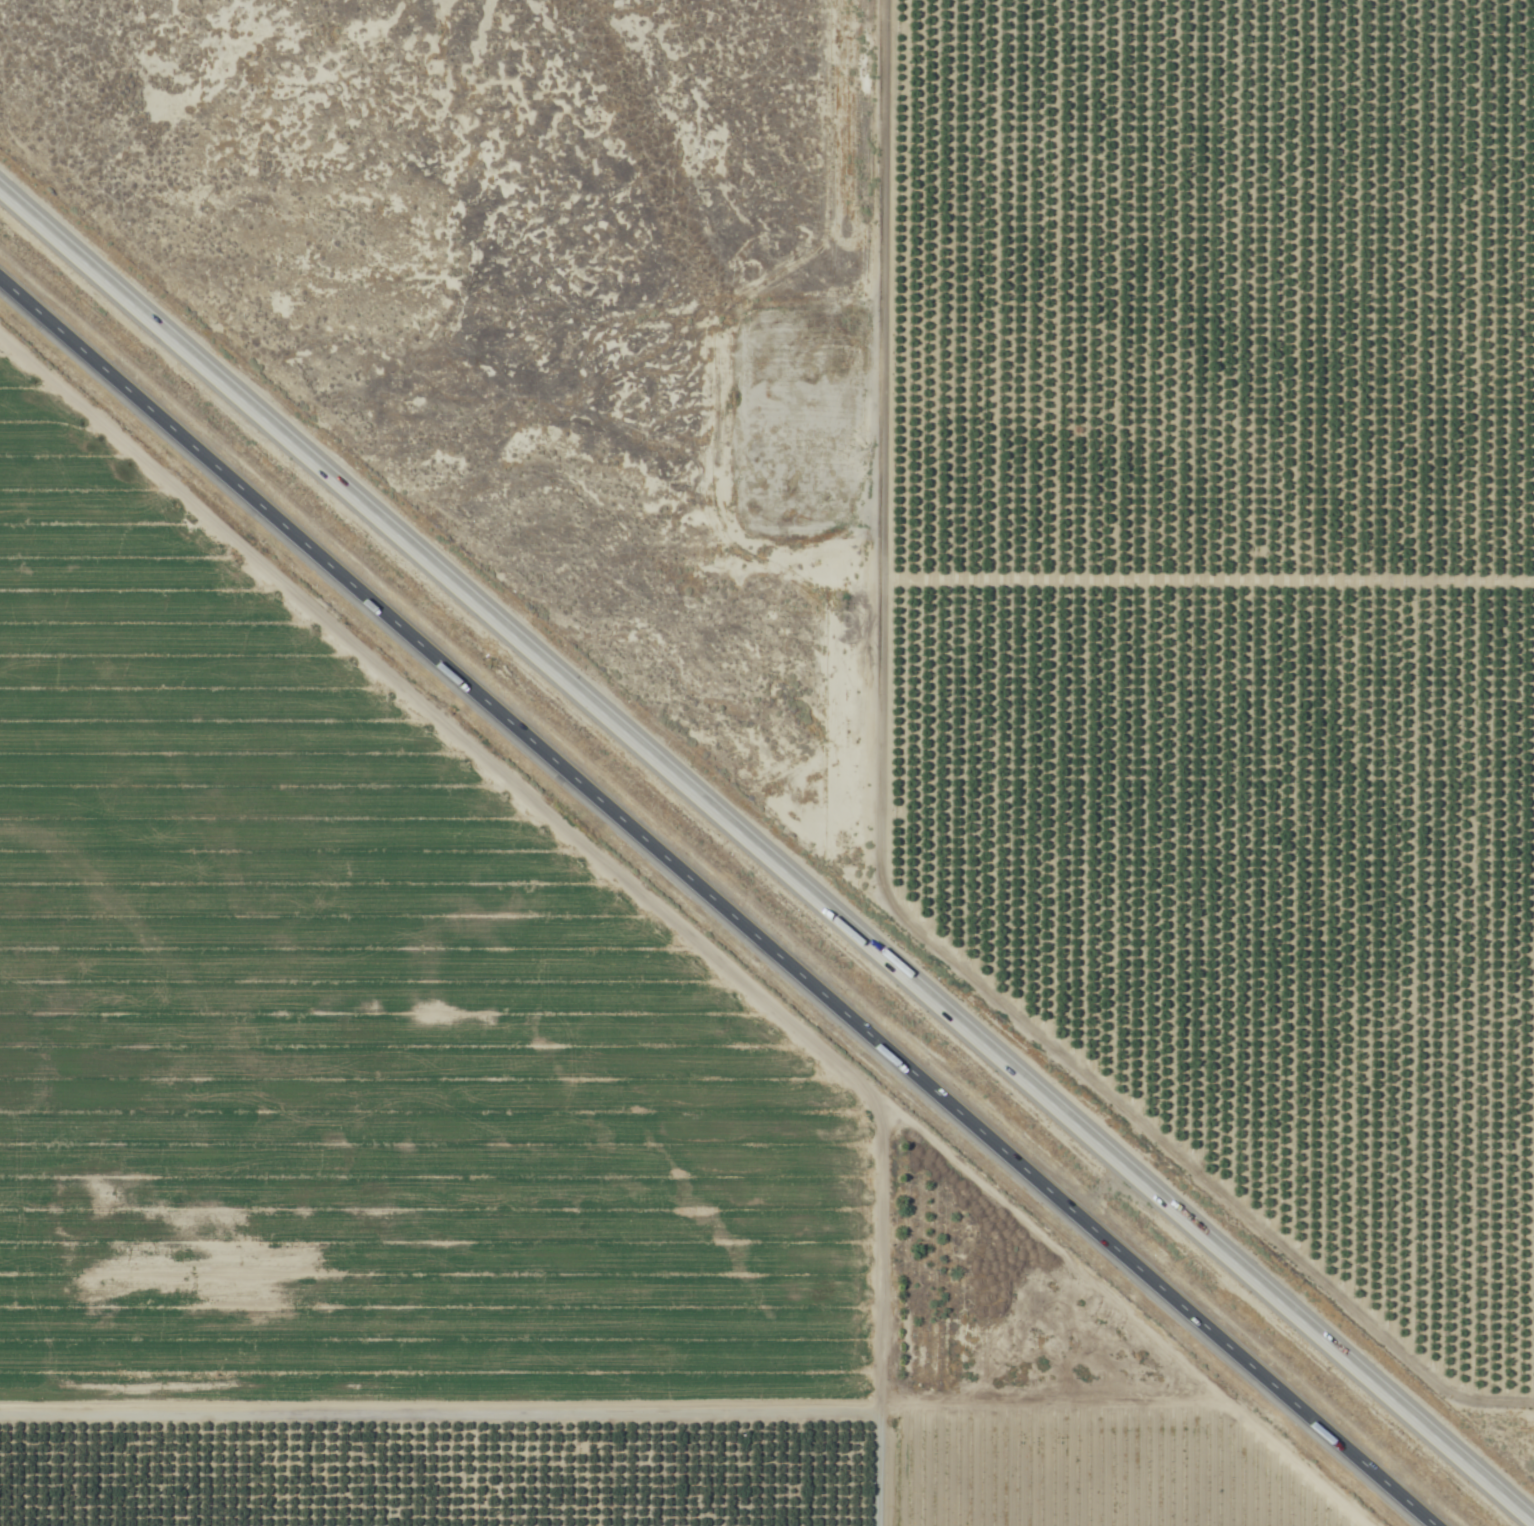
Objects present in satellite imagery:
building: (794, 514)
building: (829, 514)
crop: (970, 516)
road: (766, 856)
road: (715, 906)
crop: (444, 1139)

